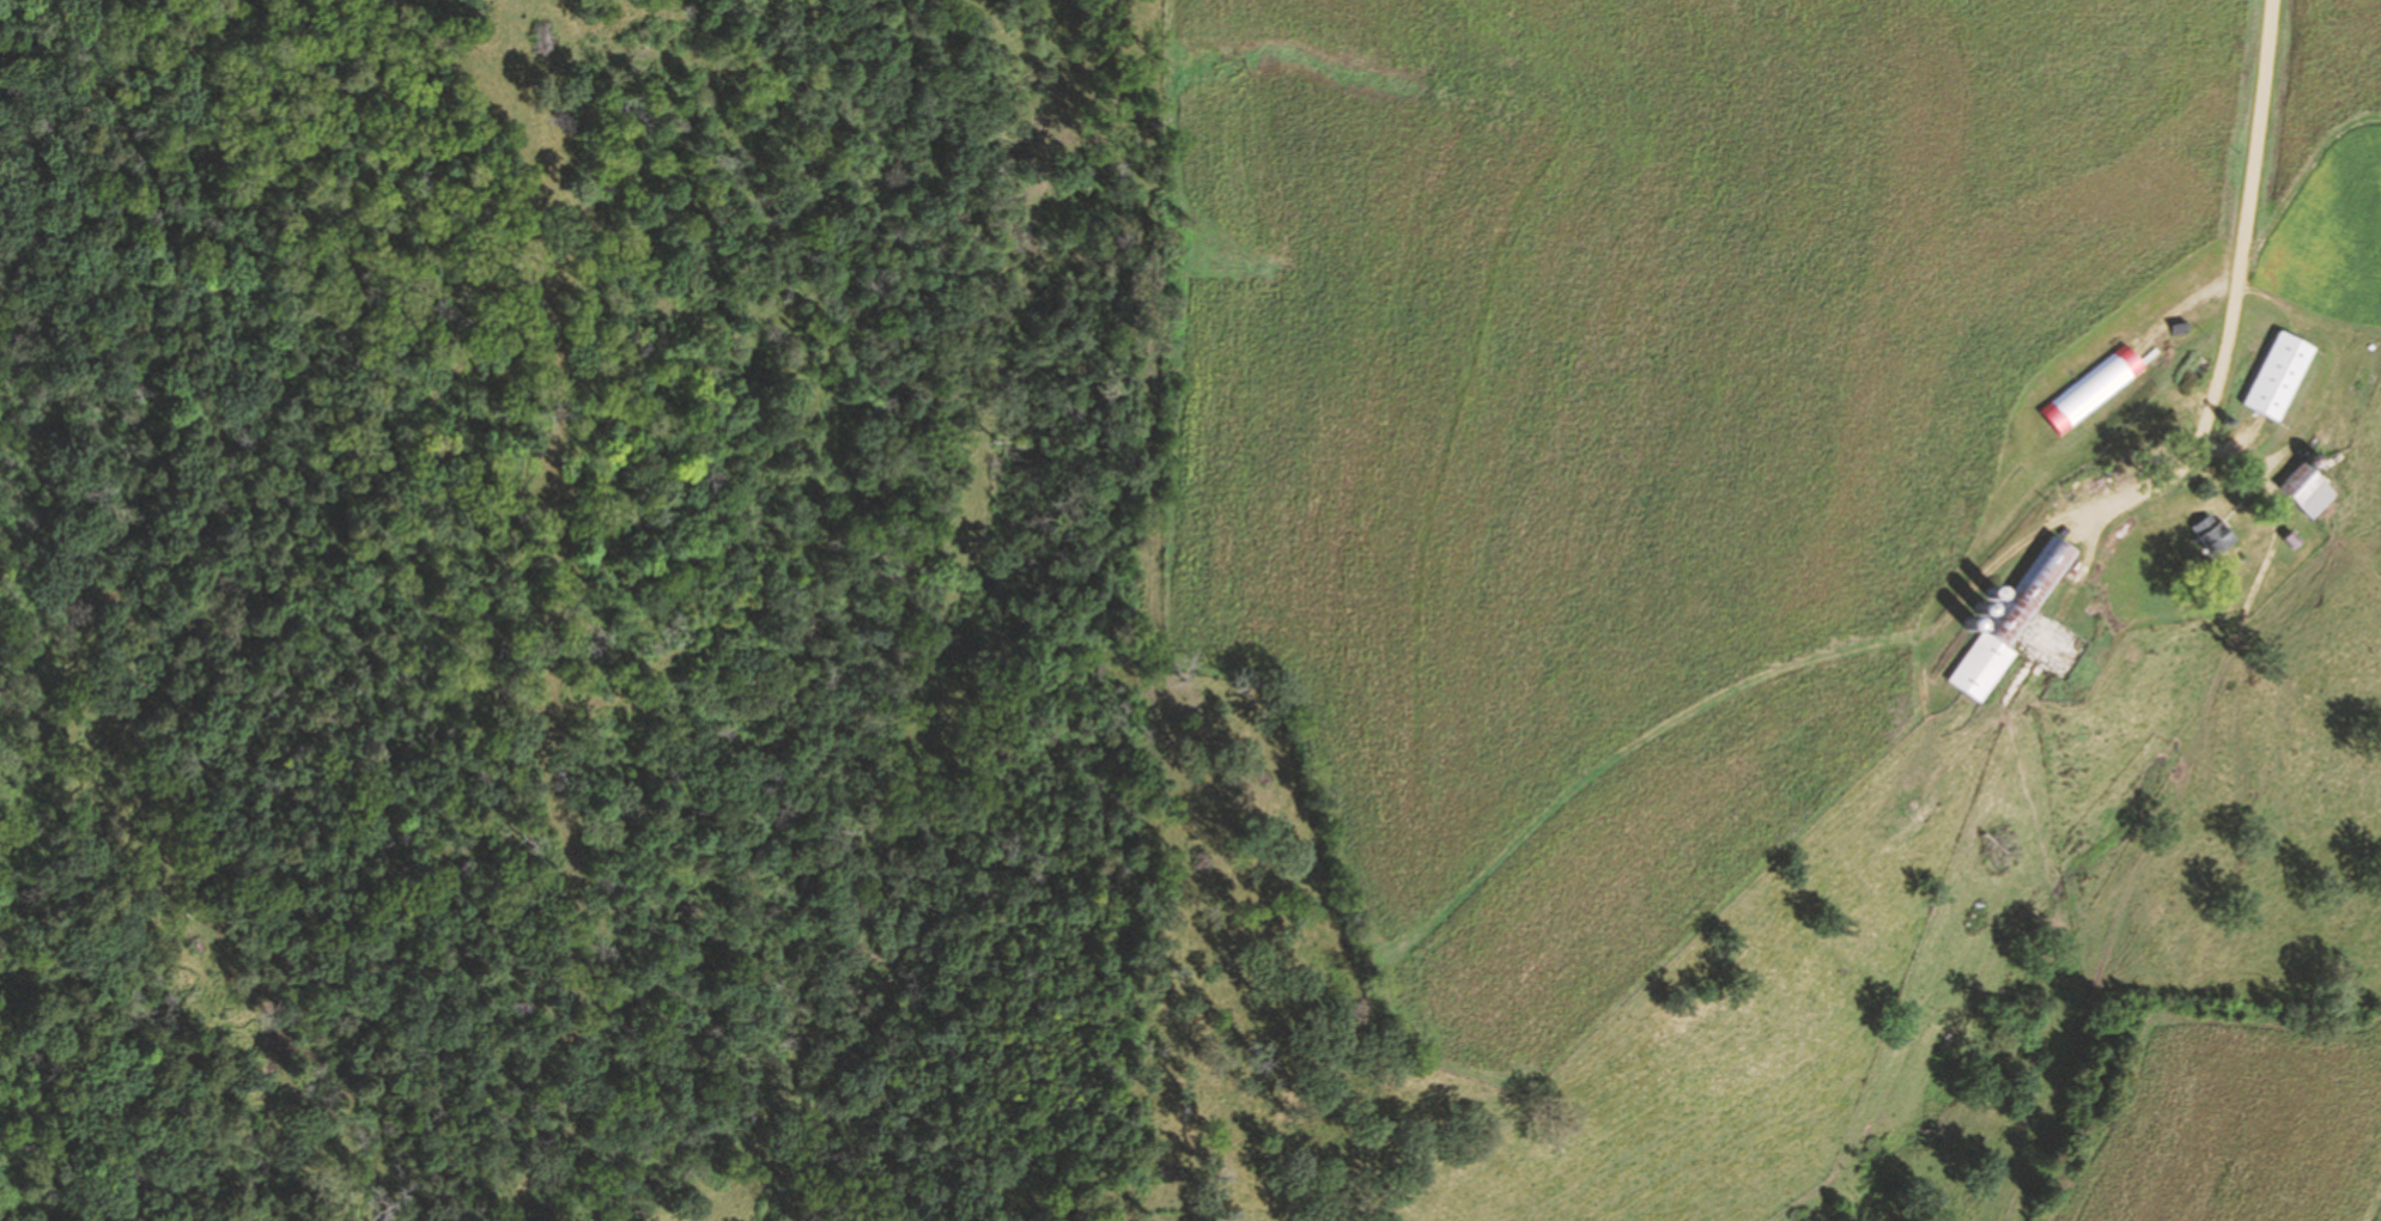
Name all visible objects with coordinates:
road: (2265, 203)
building: (2280, 377)
building: (2094, 390)
building: (2308, 492)
building: (2215, 536)
building: (2012, 621)

